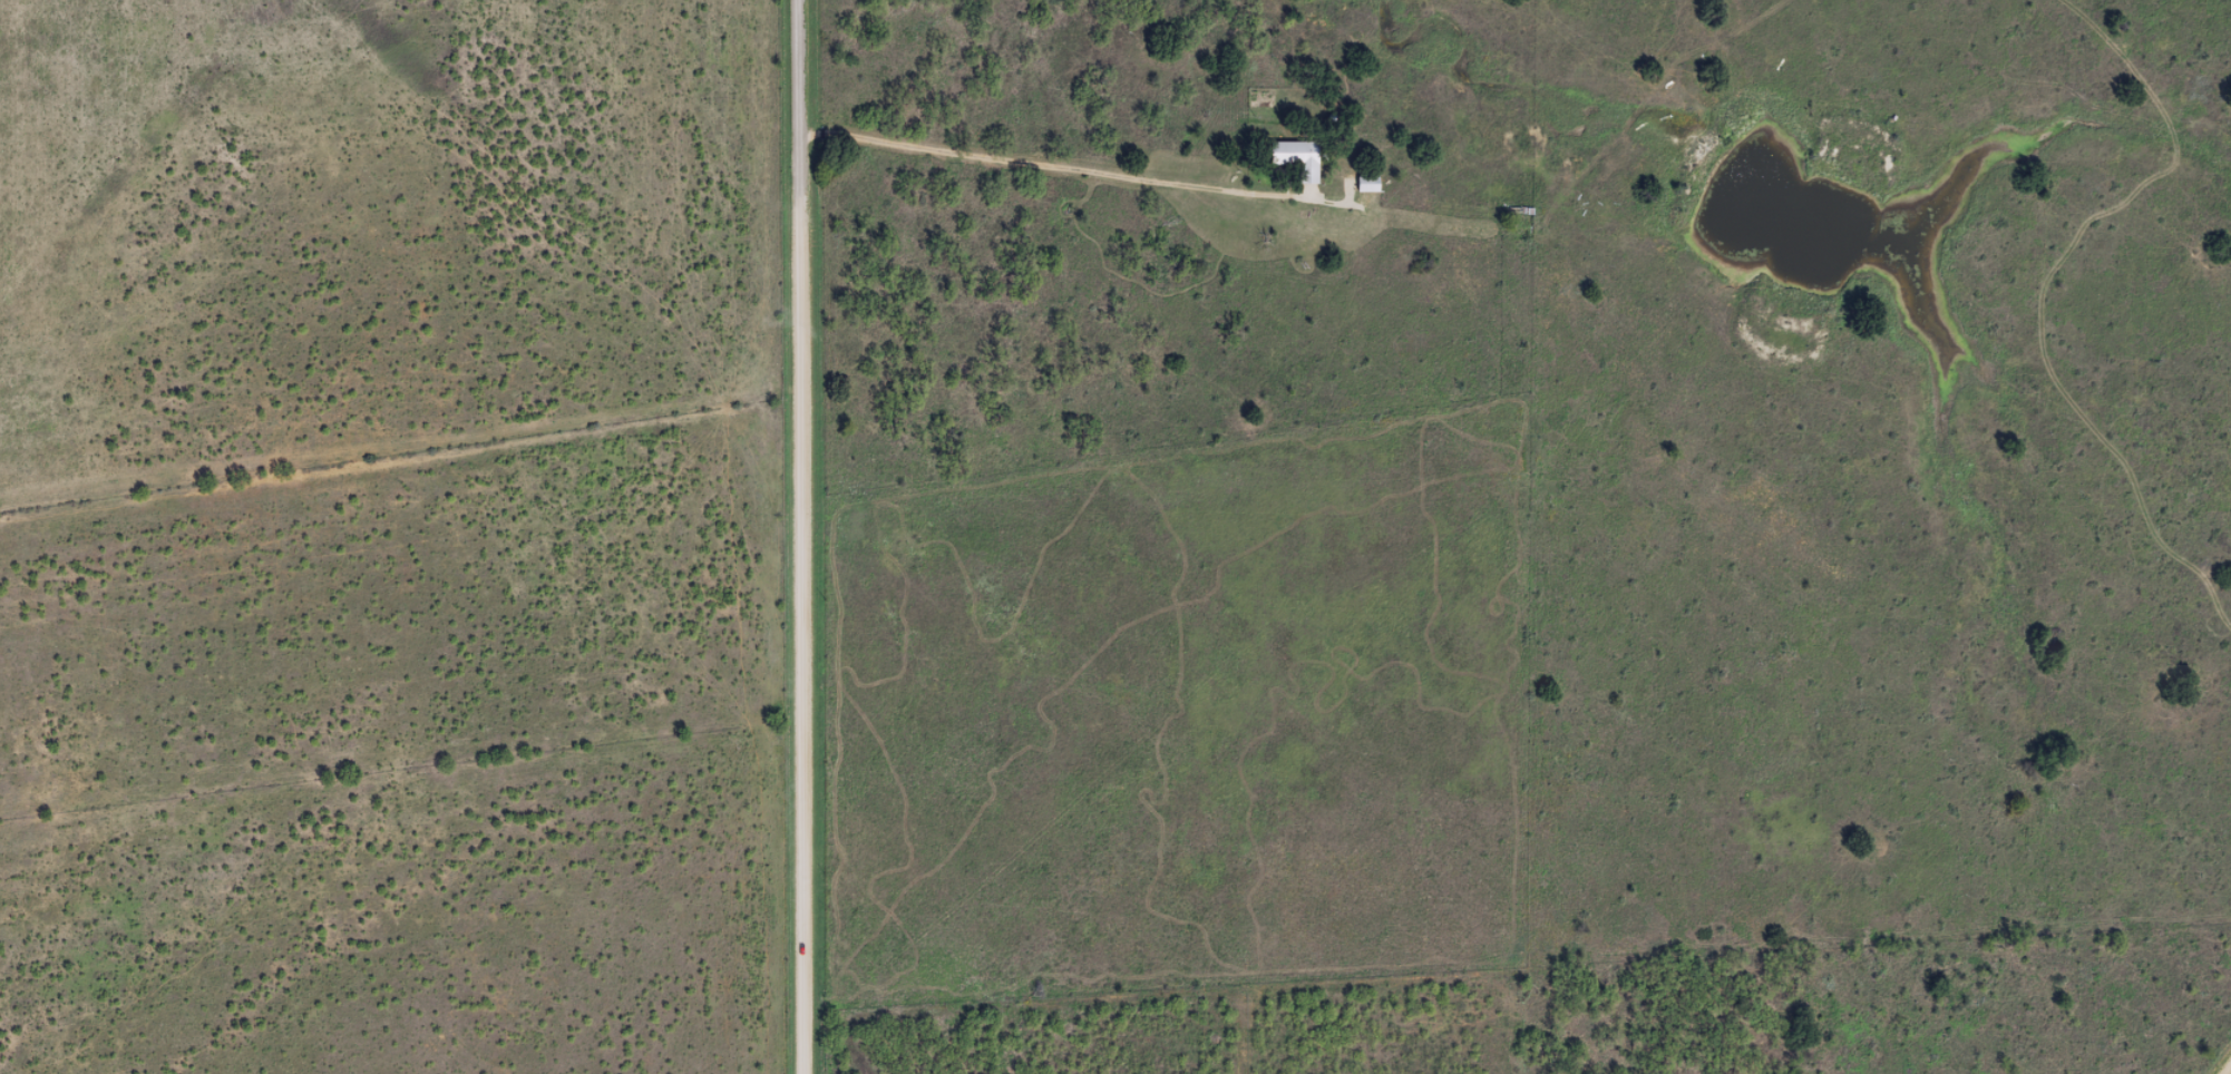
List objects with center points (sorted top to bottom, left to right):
road: (1034, 163)
building: (1294, 168)
road: (824, 537)

